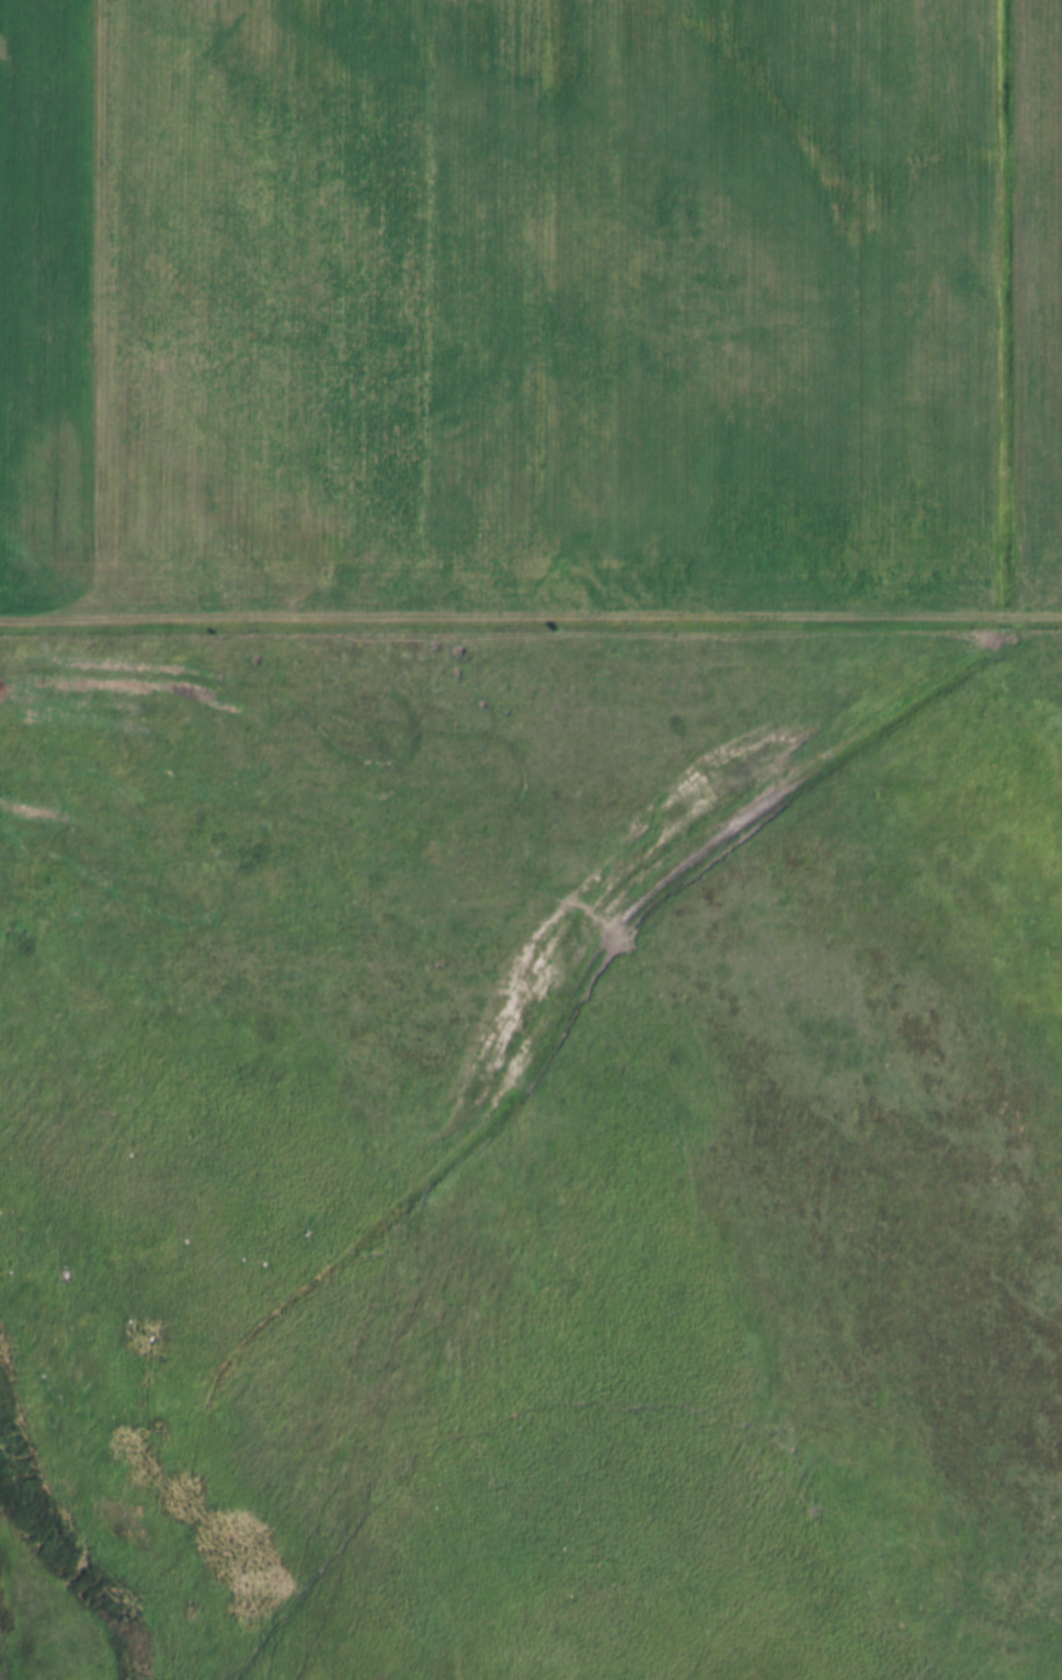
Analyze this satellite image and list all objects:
road: (418, 307)
road: (530, 613)

